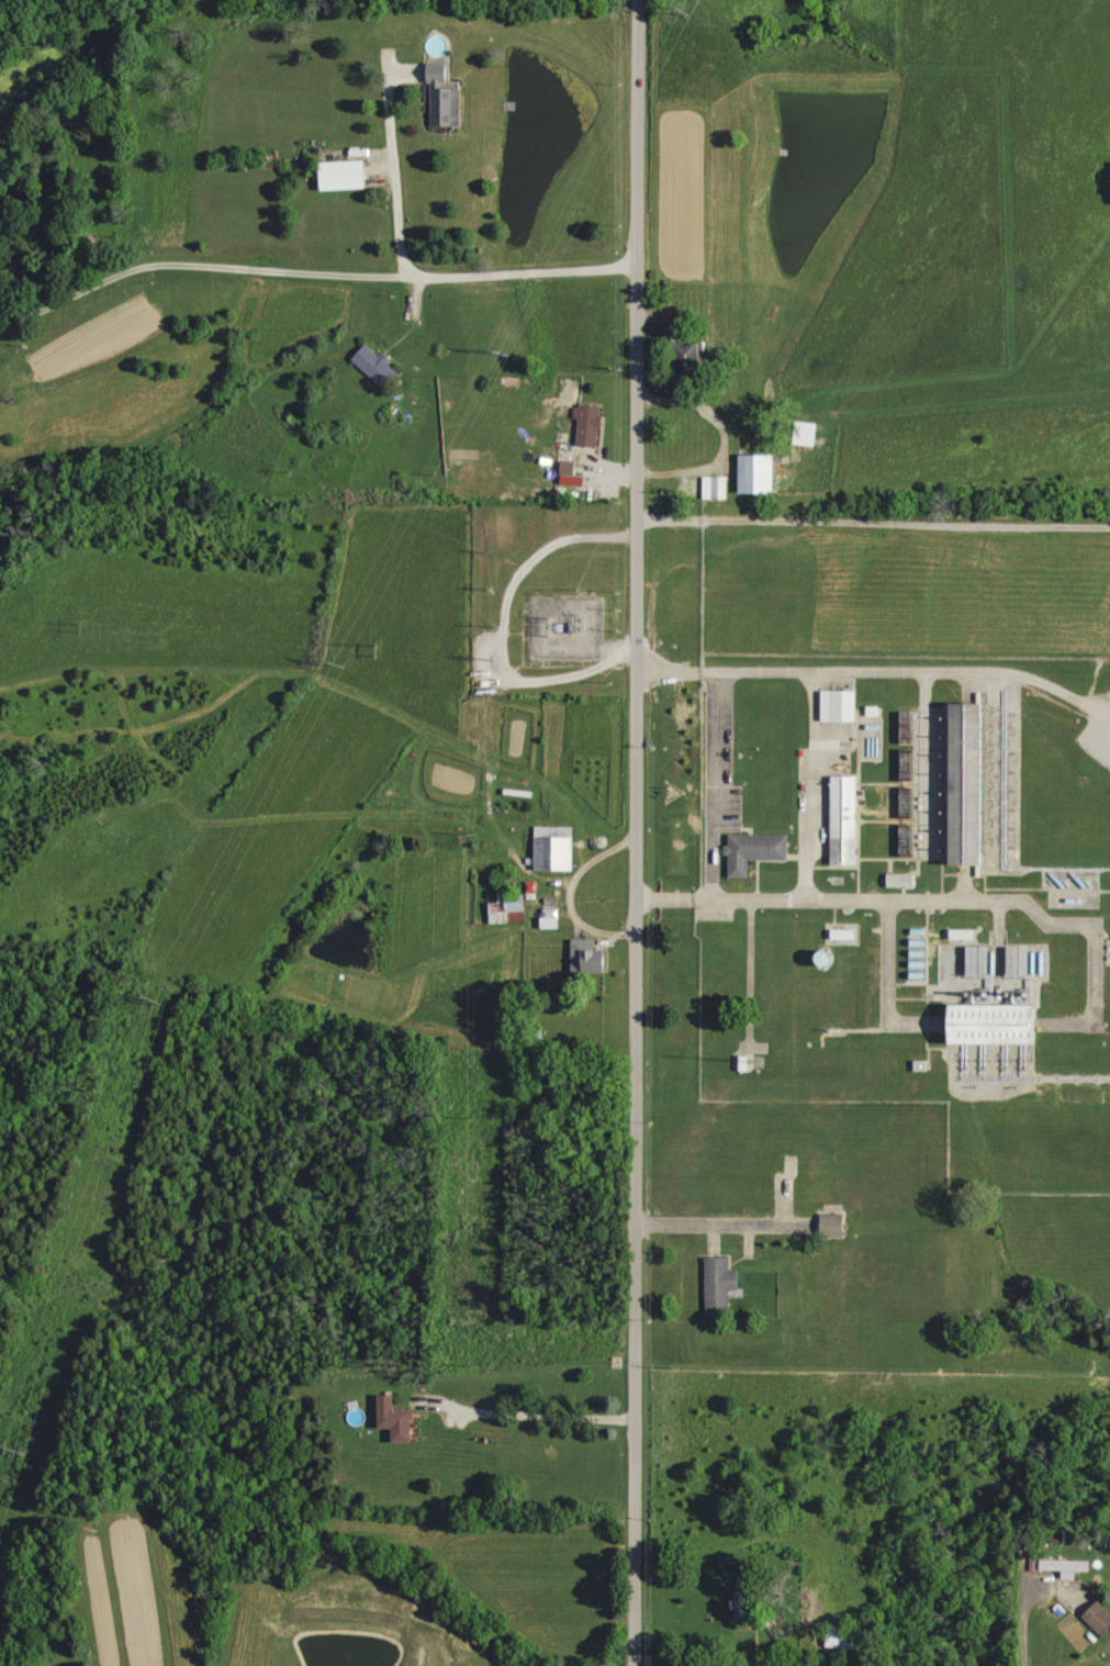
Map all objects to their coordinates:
building: (446, 98)
road: (393, 164)
building: (346, 175)
road: (199, 266)
road: (524, 273)
building: (691, 359)
building: (377, 364)
building: (590, 424)
building: (807, 433)
building: (569, 467)
building: (760, 473)
building: (721, 487)
power substation: (564, 626)
power substation: (564, 626)
road: (867, 674)
road: (1100, 712)
building: (838, 723)
building: (910, 727)
road: (713, 786)
flagpole: (670, 787)
road: (814, 787)
building: (965, 789)
flagpole: (677, 792)
flagpole: (670, 797)
building: (843, 821)
road: (637, 832)
building: (556, 849)
building: (753, 853)
building: (904, 880)
road: (871, 901)
building: (511, 907)
building: (551, 918)
building: (844, 935)
building: (964, 935)
building: (590, 957)
building: (831, 959)
building: (979, 961)
road: (752, 975)
road: (885, 986)
building: (991, 1024)
road: (726, 1223)
building: (834, 1226)
building: (721, 1285)
road: (525, 1417)
building: (397, 1418)
building: (1068, 1566)
building: (744, 1603)
building: (1099, 1619)
building: (843, 1636)
road: (1086, 1661)

